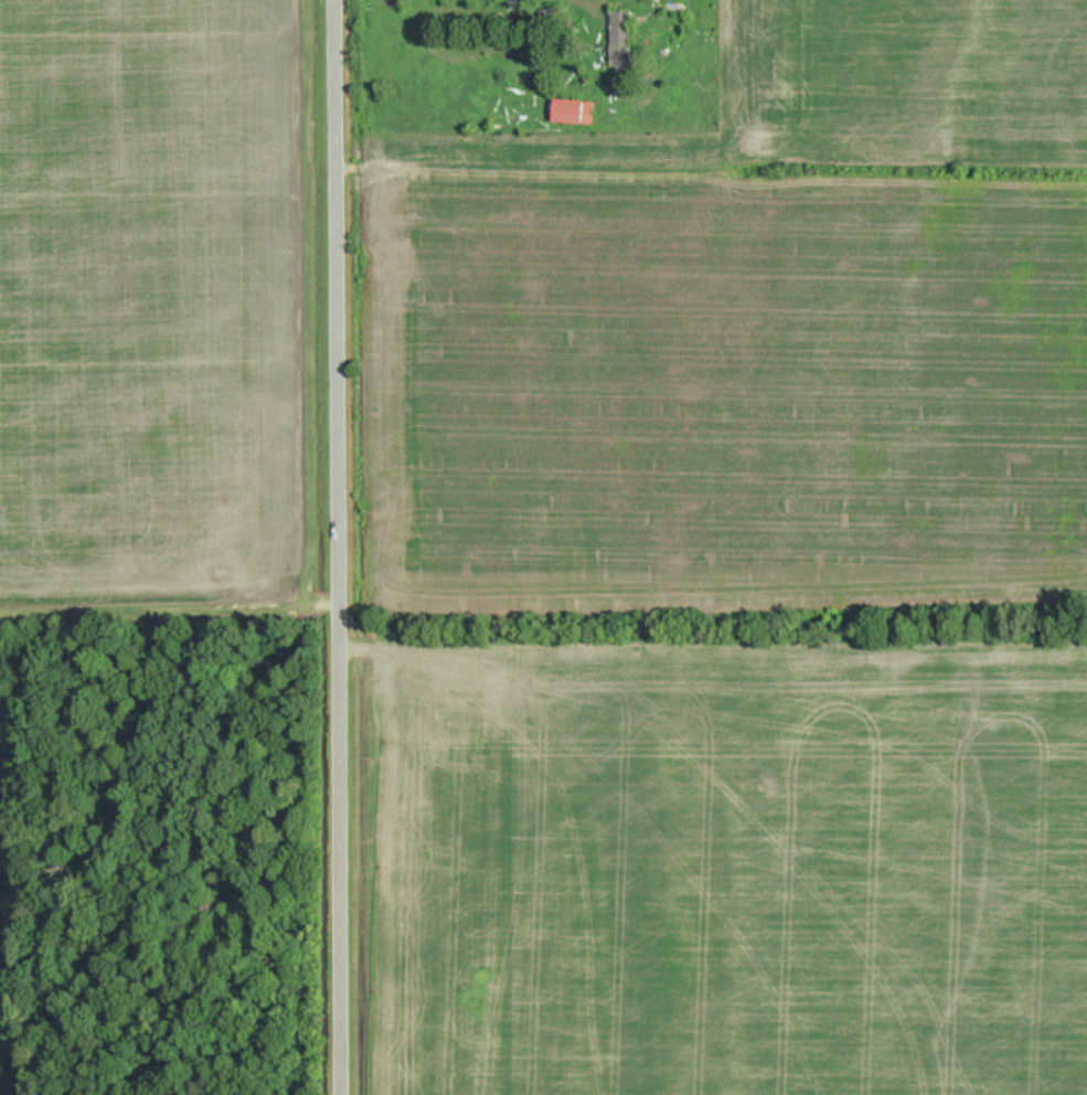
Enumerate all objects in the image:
road: (612, 1)
building: (622, 33)
building: (575, 111)
road: (340, 546)

